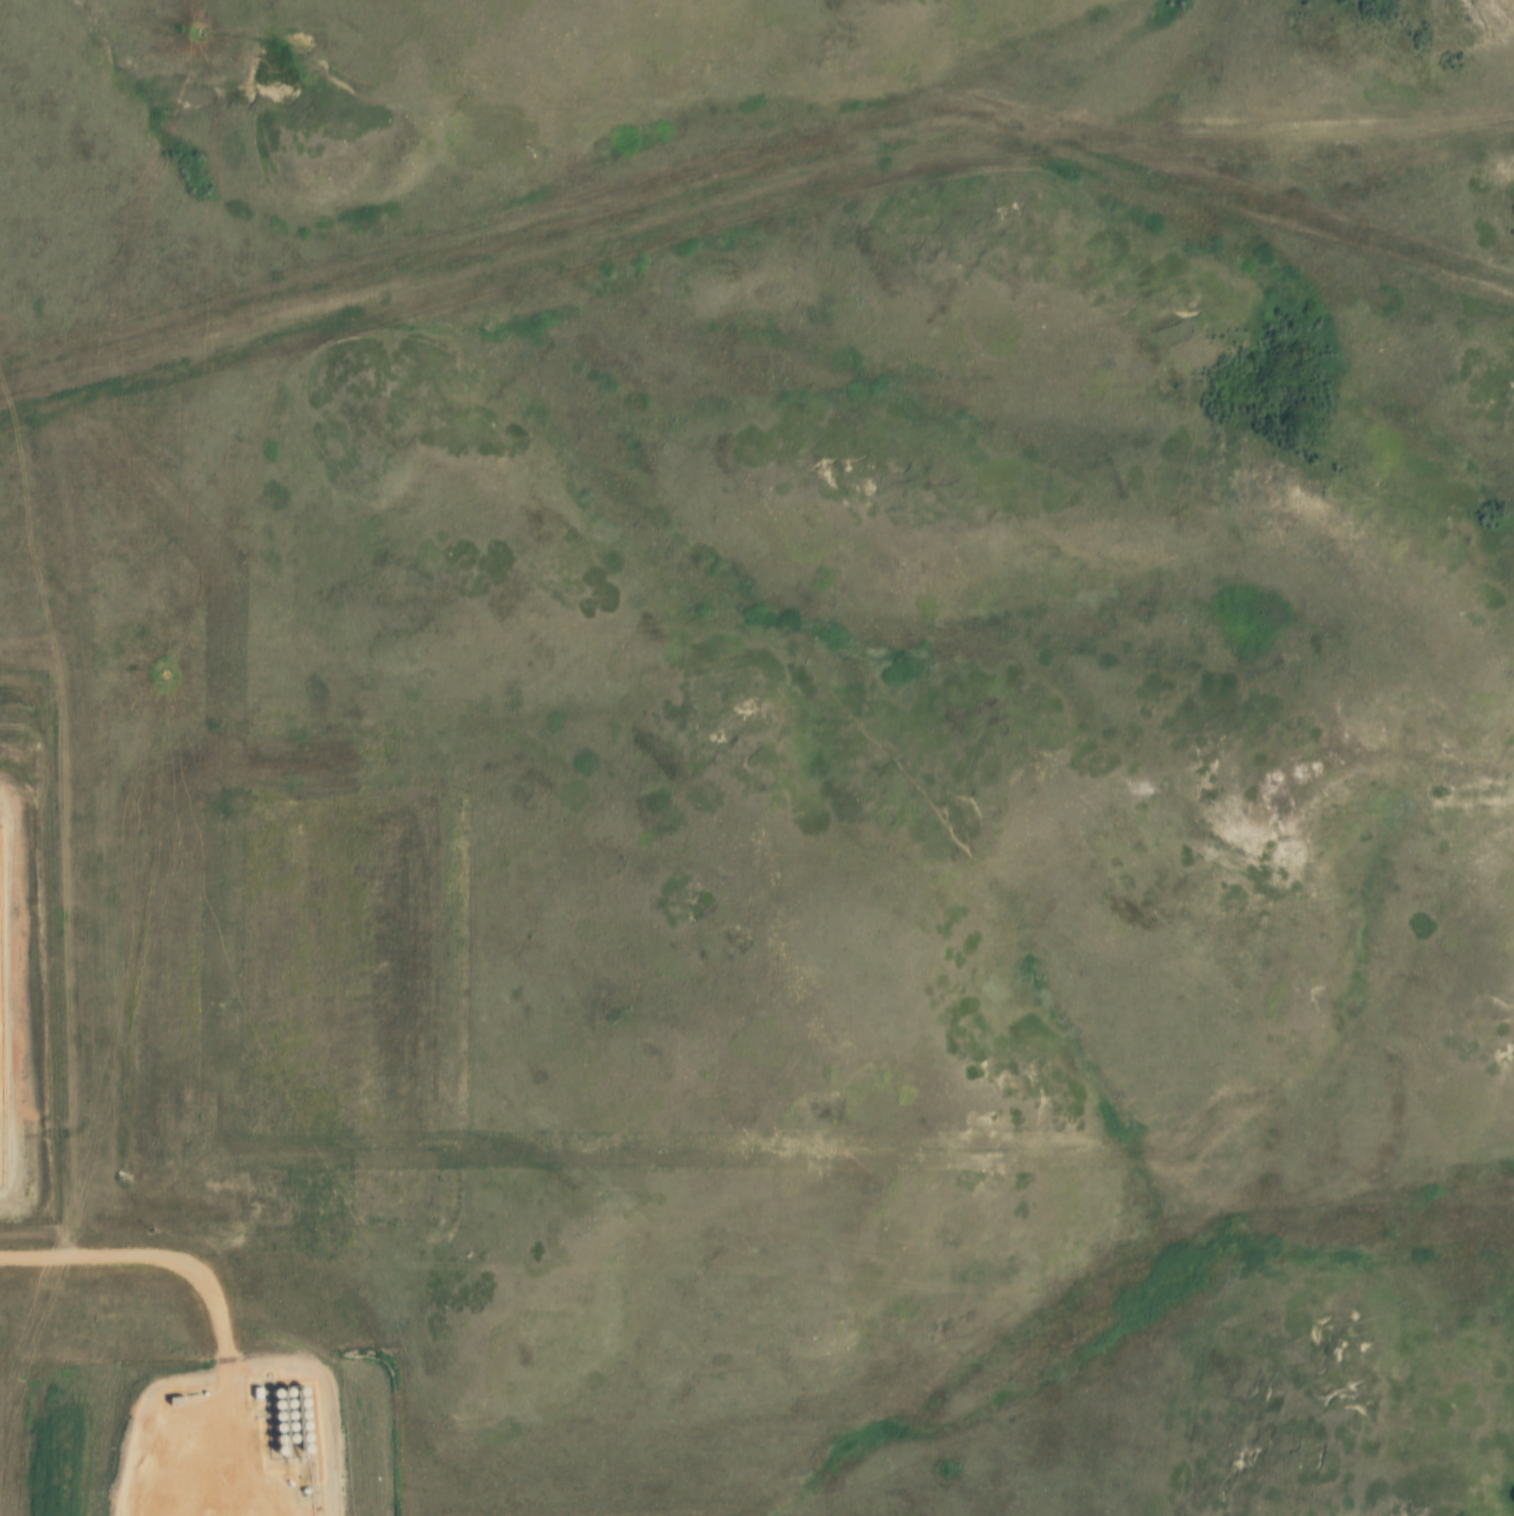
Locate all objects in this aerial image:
building: (143, 1512)

